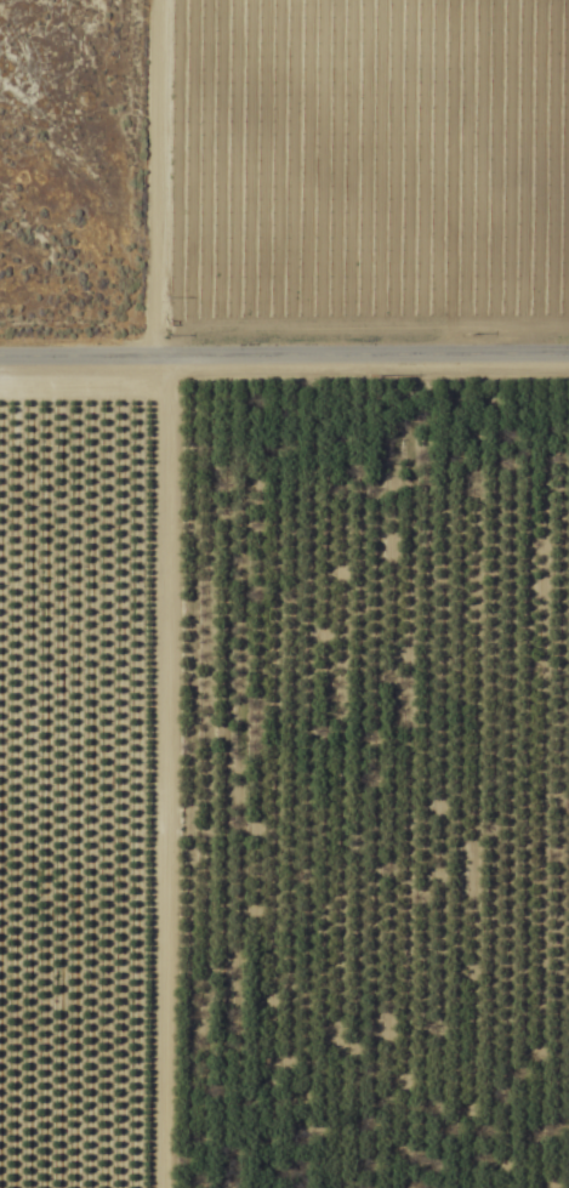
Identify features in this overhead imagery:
road: (284, 348)
road: (152, 593)

